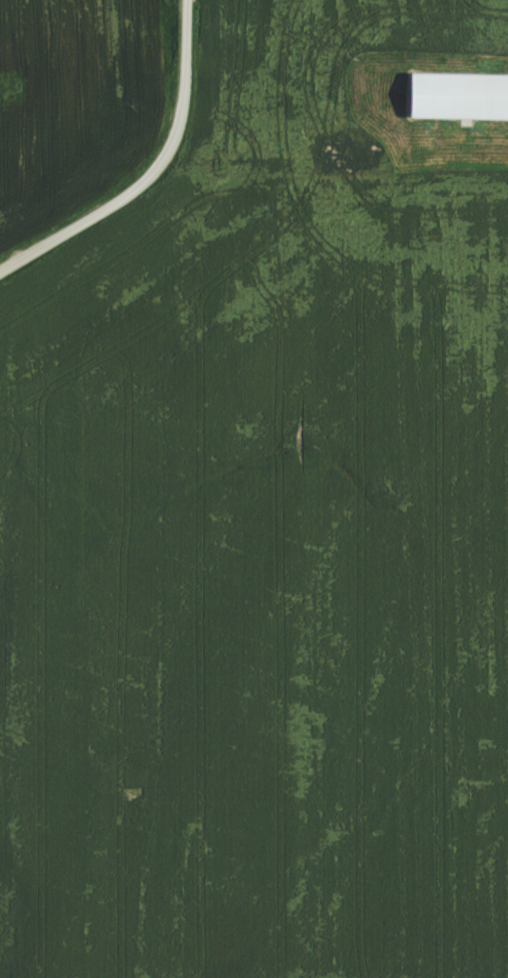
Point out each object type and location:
building: (461, 95)
road: (180, 104)
road: (63, 227)

